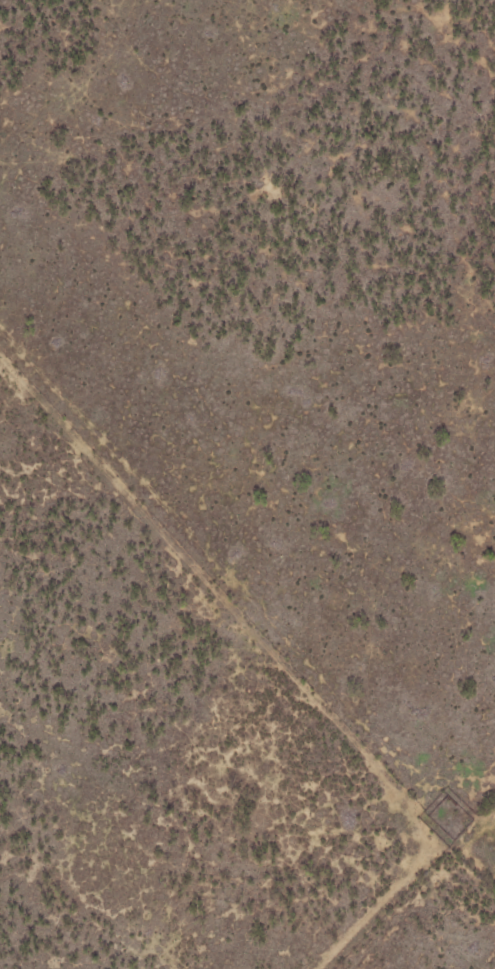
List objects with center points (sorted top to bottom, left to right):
road: (186, 821)

